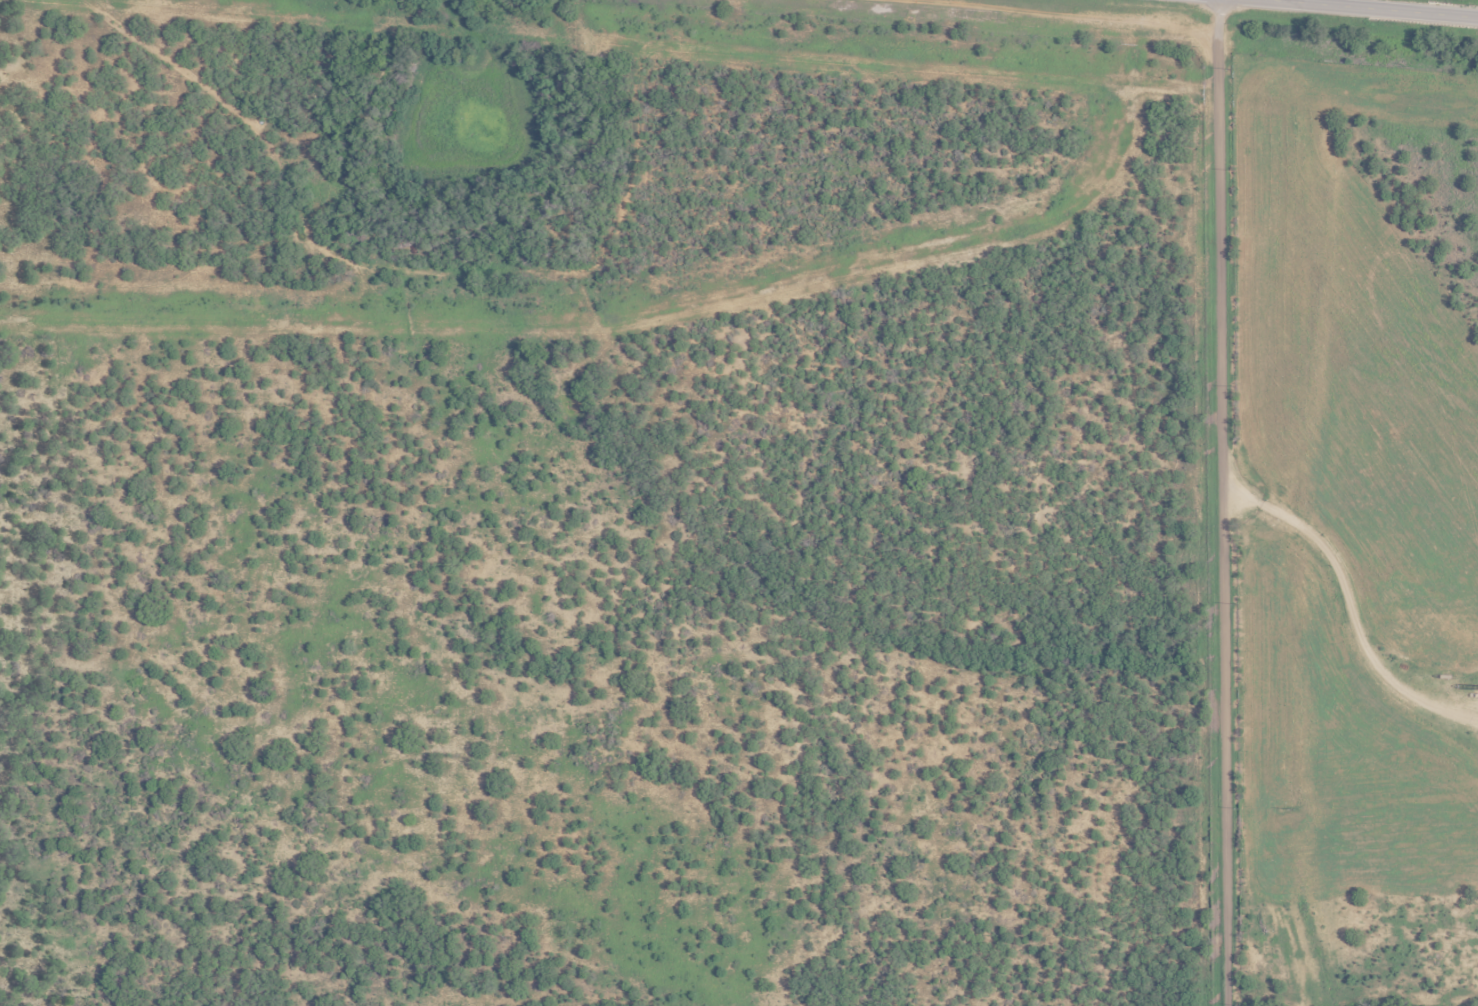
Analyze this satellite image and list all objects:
road: (1378, 8)
road: (1221, 502)

